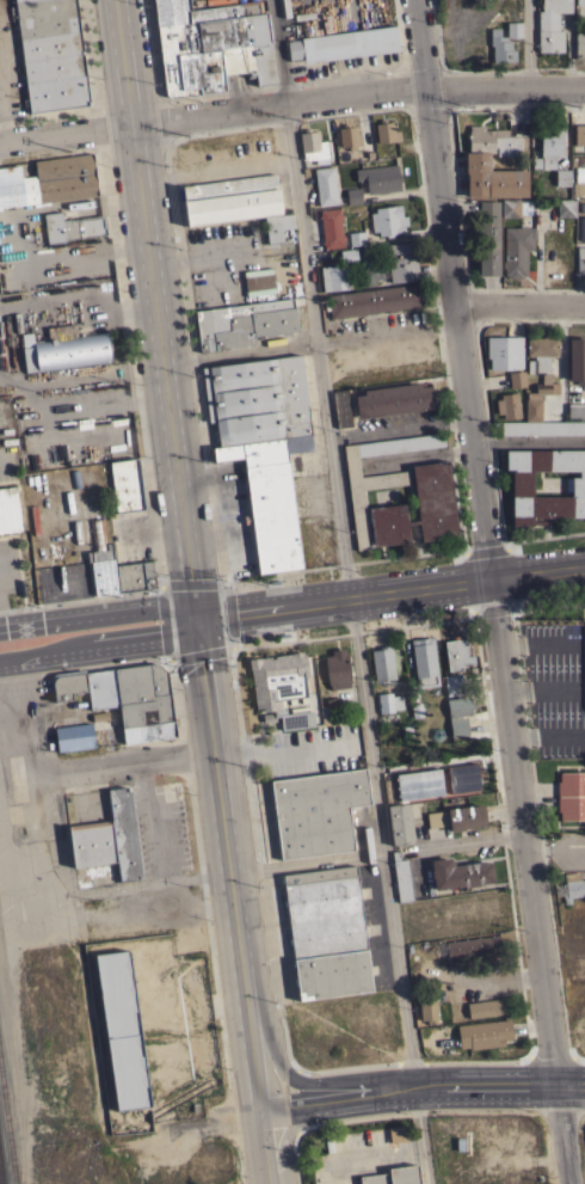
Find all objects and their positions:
building: (580, 2)
building: (517, 5)
building: (550, 24)
building: (513, 29)
road: (529, 42)
building: (343, 44)
building: (580, 44)
building: (211, 45)
building: (500, 47)
building: (51, 54)
road: (291, 102)
building: (386, 131)
building: (579, 134)
building: (347, 135)
building: (313, 146)
building: (550, 146)
building: (476, 162)
building: (579, 168)
building: (562, 177)
building: (380, 178)
building: (49, 180)
building: (325, 185)
building: (578, 189)
building: (352, 195)
building: (230, 200)
building: (513, 207)
building: (565, 207)
building: (388, 220)
building: (72, 226)
building: (277, 226)
building: (331, 228)
building: (581, 228)
building: (356, 238)
building: (487, 238)
building: (516, 250)
building: (580, 258)
building: (401, 262)
building: (337, 271)
building: (369, 271)
building: (250, 287)
building: (372, 300)
road: (519, 302)
road: (155, 309)
building: (245, 323)
road: (387, 336)
building: (62, 348)
building: (504, 351)
building: (540, 352)
road: (240, 355)
building: (575, 360)
building: (516, 379)
building: (538, 397)
building: (393, 399)
building: (507, 405)
building: (340, 407)
building: (575, 410)
building: (542, 428)
building: (127, 485)
building: (522, 485)
building: (269, 495)
building: (418, 508)
building: (8, 510)
building: (358, 519)
building: (35, 520)
building: (99, 558)
building: (134, 572)
road: (351, 591)
road: (492, 591)
road: (392, 596)
road: (81, 597)
road: (99, 618)
traffic signals: (198, 620)
road: (100, 645)
road: (226, 646)
building: (456, 652)
building: (424, 662)
building: (382, 663)
road: (82, 665)
building: (335, 669)
building: (451, 683)
building: (584, 685)
building: (281, 689)
building: (124, 698)
building: (388, 701)
building: (328, 708)
building: (458, 713)
building: (74, 736)
road: (129, 769)
building: (462, 778)
building: (418, 784)
building: (571, 795)
building: (316, 811)
building: (457, 817)
road: (156, 822)
building: (399, 823)
building: (124, 834)
road: (44, 839)
building: (91, 842)
road: (555, 849)
building: (458, 873)
building: (402, 879)
road: (142, 882)
building: (572, 885)
road: (230, 902)
building: (326, 932)
building: (473, 947)
building: (427, 1007)
building: (486, 1007)
building: (115, 1029)
building: (484, 1033)
road: (272, 1045)
road: (418, 1090)
railway: (11, 1097)
railway: (7, 1123)
road: (284, 1134)
railway: (5, 1145)
building: (389, 1176)
railway: (0, 1178)

